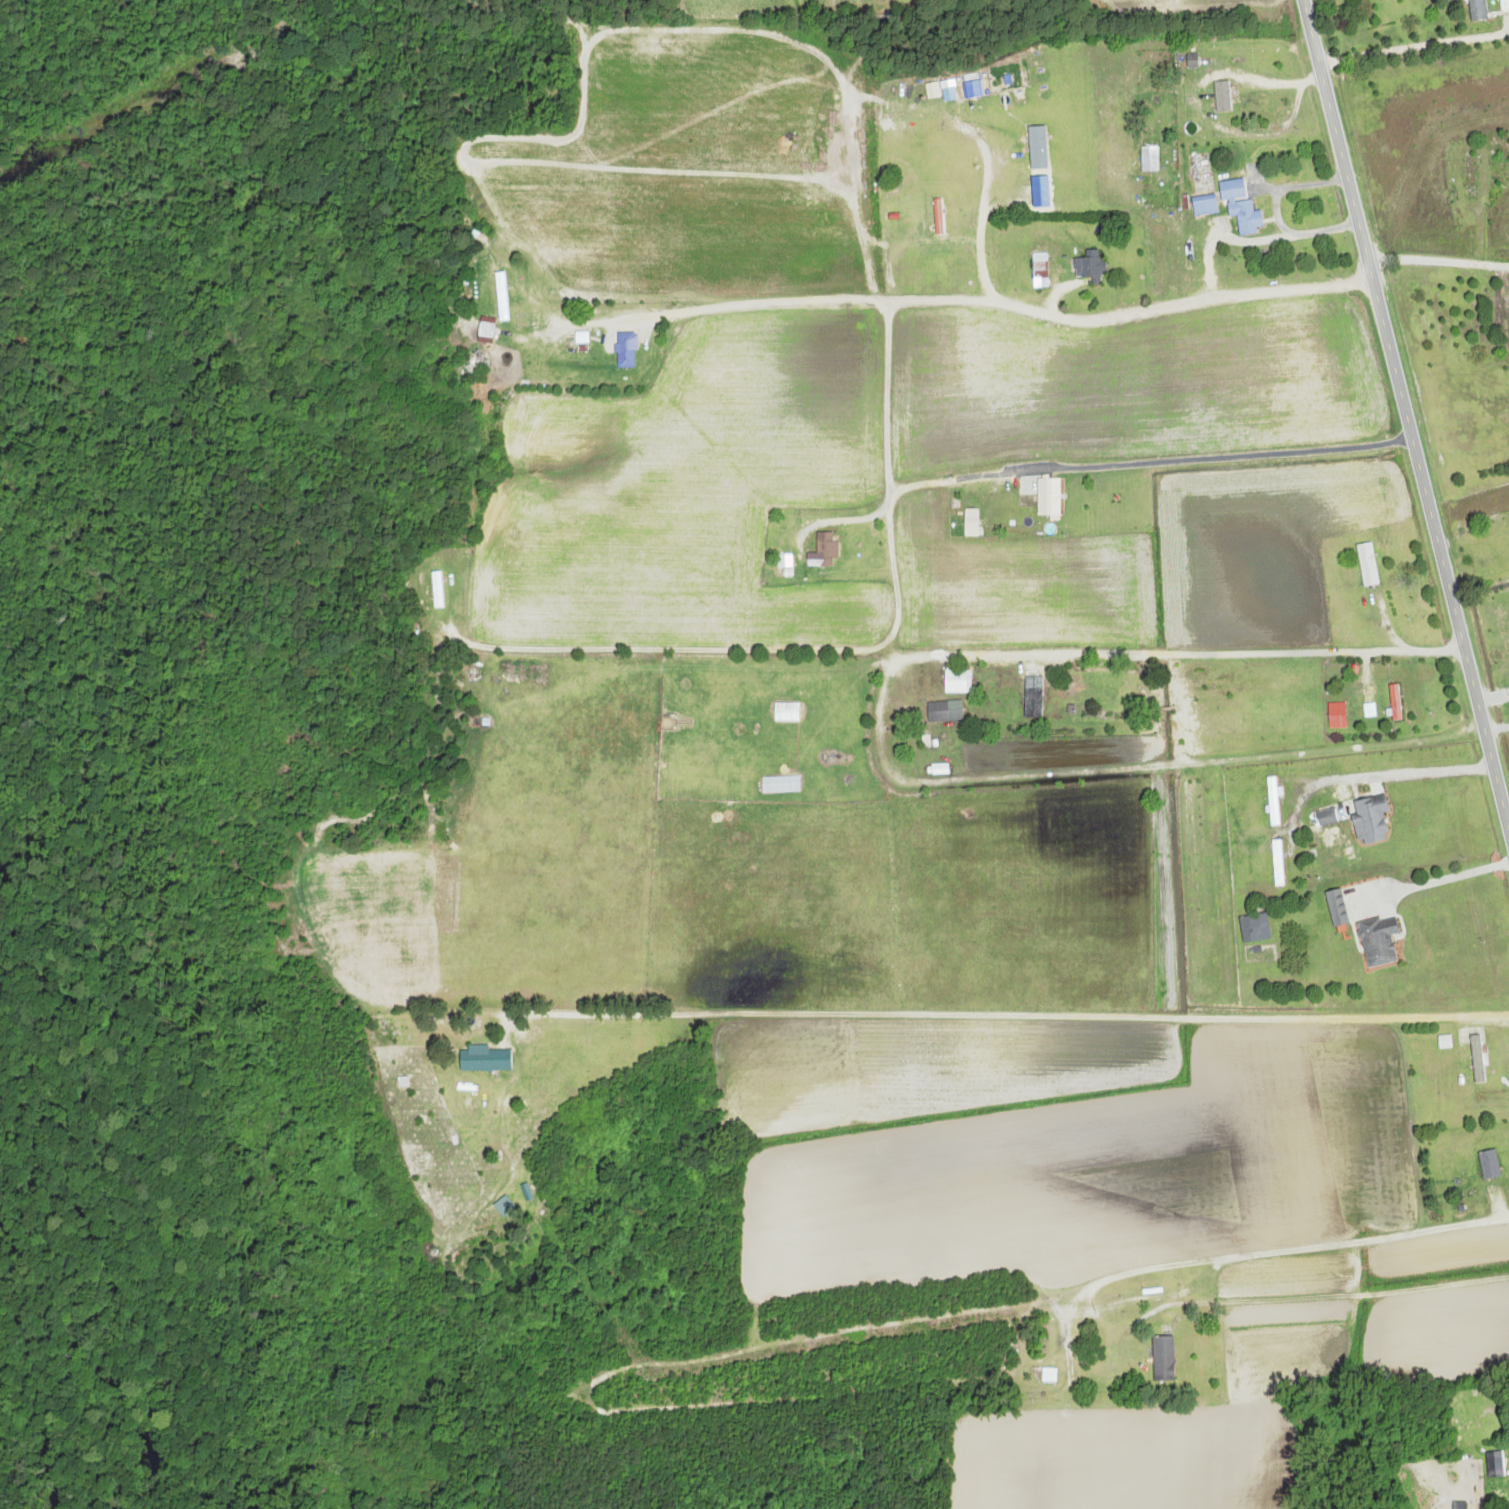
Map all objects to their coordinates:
building: (1479, 10)
building: (1223, 97)
building: (1040, 151)
building: (1150, 160)
building: (1470, 177)
building: (1205, 206)
building: (1241, 207)
building: (938, 217)
road: (1439, 264)
building: (1090, 268)
building: (1040, 271)
building: (502, 297)
road: (994, 306)
building: (528, 322)
building: (487, 328)
building: (581, 340)
building: (626, 351)
road: (1405, 417)
building: (1049, 496)
building: (971, 522)
building: (827, 549)
building: (785, 564)
building: (1368, 564)
building: (438, 590)
road: (1234, 651)
building: (955, 681)
building: (1033, 696)
building: (1395, 703)
building: (945, 711)
building: (786, 712)
building: (1337, 716)
road: (1497, 730)
building: (1273, 801)
building: (1327, 817)
building: (1371, 818)
building: (1278, 863)
building: (1338, 907)
building: (1380, 941)
building: (482, 1058)
building: (1490, 1164)
road: (1321, 1245)
building: (1163, 1357)
building: (1049, 1375)
road: (1190, 1380)

